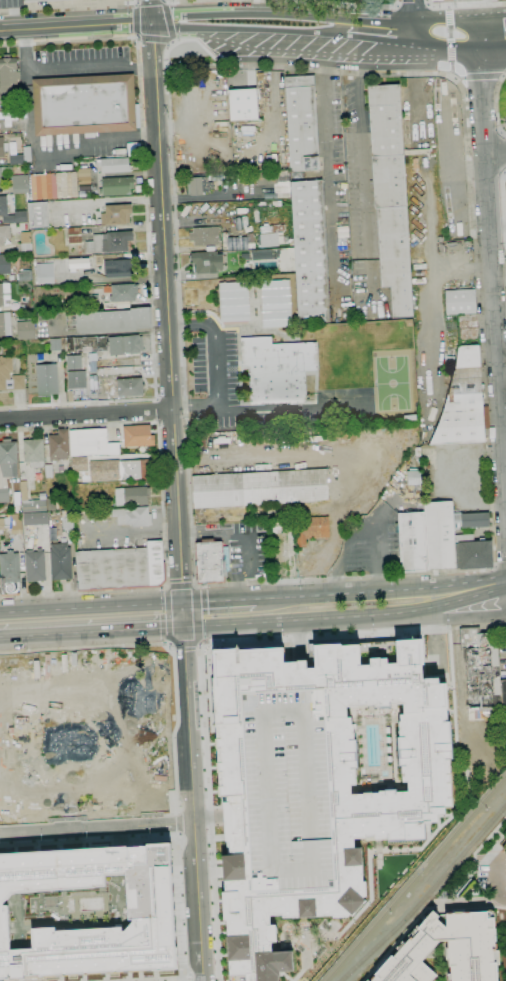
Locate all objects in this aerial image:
building: (22, 0)
building: (29, 0)
road: (188, 0)
building: (441, 0)
road: (163, 1)
road: (334, 3)
road: (498, 3)
road: (412, 4)
road: (459, 5)
road: (182, 6)
road: (265, 6)
road: (69, 7)
road: (249, 12)
road: (412, 17)
traffic signals: (151, 23)
road: (168, 23)
road: (75, 26)
road: (491, 26)
road: (248, 29)
road: (379, 33)
road: (444, 36)
road: (136, 38)
road: (491, 41)
railway: (430, 50)
road: (69, 70)
building: (7, 77)
road: (480, 81)
road: (497, 104)
building: (84, 105)
building: (243, 105)
building: (301, 124)
building: (3, 147)
road: (59, 149)
building: (132, 149)
road: (142, 150)
building: (419, 152)
road: (495, 153)
building: (26, 154)
building: (16, 159)
building: (113, 165)
building: (5, 172)
building: (82, 175)
road: (363, 175)
road: (332, 176)
building: (19, 184)
building: (52, 185)
building: (198, 185)
building: (116, 186)
building: (281, 186)
building: (389, 196)
building: (3, 204)
building: (38, 215)
building: (116, 215)
road: (502, 224)
building: (4, 234)
building: (74, 235)
building: (204, 236)
building: (271, 239)
building: (109, 242)
building: (237, 242)
building: (25, 243)
building: (309, 251)
building: (261, 254)
building: (206, 262)
building: (5, 264)
road: (164, 267)
building: (118, 268)
building: (43, 273)
building: (25, 275)
road: (491, 278)
building: (122, 293)
building: (4, 294)
building: (234, 302)
building: (89, 303)
building: (275, 304)
building: (463, 312)
building: (110, 321)
building: (5, 324)
building: (25, 330)
railway: (435, 335)
building: (98, 342)
building: (54, 344)
building: (125, 345)
building: (73, 361)
park: (215, 363)
road: (214, 365)
building: (277, 369)
building: (9, 376)
building: (47, 380)
park: (393, 383)
building: (129, 388)
building: (463, 402)
road: (78, 403)
road: (157, 412)
road: (86, 413)
building: (138, 437)
building: (239, 438)
building: (91, 443)
building: (58, 445)
building: (34, 453)
building: (8, 458)
building: (133, 470)
building: (49, 471)
building: (413, 477)
road: (435, 480)
building: (259, 488)
building: (4, 495)
building: (132, 496)
road: (162, 510)
building: (133, 517)
building: (35, 518)
building: (67, 520)
building: (470, 520)
building: (15, 523)
building: (282, 526)
building: (311, 529)
building: (439, 536)
road: (244, 538)
building: (412, 541)
building: (472, 553)
building: (279, 554)
road: (493, 556)
building: (209, 561)
building: (60, 562)
building: (35, 566)
road: (500, 566)
building: (120, 568)
road: (180, 570)
building: (9, 573)
road: (194, 586)
road: (394, 591)
road: (260, 598)
road: (209, 602)
traffic signals: (182, 605)
road: (91, 609)
road: (182, 616)
road: (346, 617)
road: (434, 618)
traffic signals: (183, 627)
road: (91, 632)
road: (329, 634)
road: (132, 645)
building: (480, 673)
road: (459, 679)
building: (503, 698)
road: (201, 708)
railway: (175, 738)
road: (175, 748)
building: (312, 784)
road: (192, 804)
road: (97, 828)
road: (90, 836)
road: (210, 855)
road: (183, 869)
railway: (414, 876)
road: (497, 882)
railway: (425, 894)
building: (150, 913)
road: (420, 914)
building: (447, 948)
road: (164, 979)

